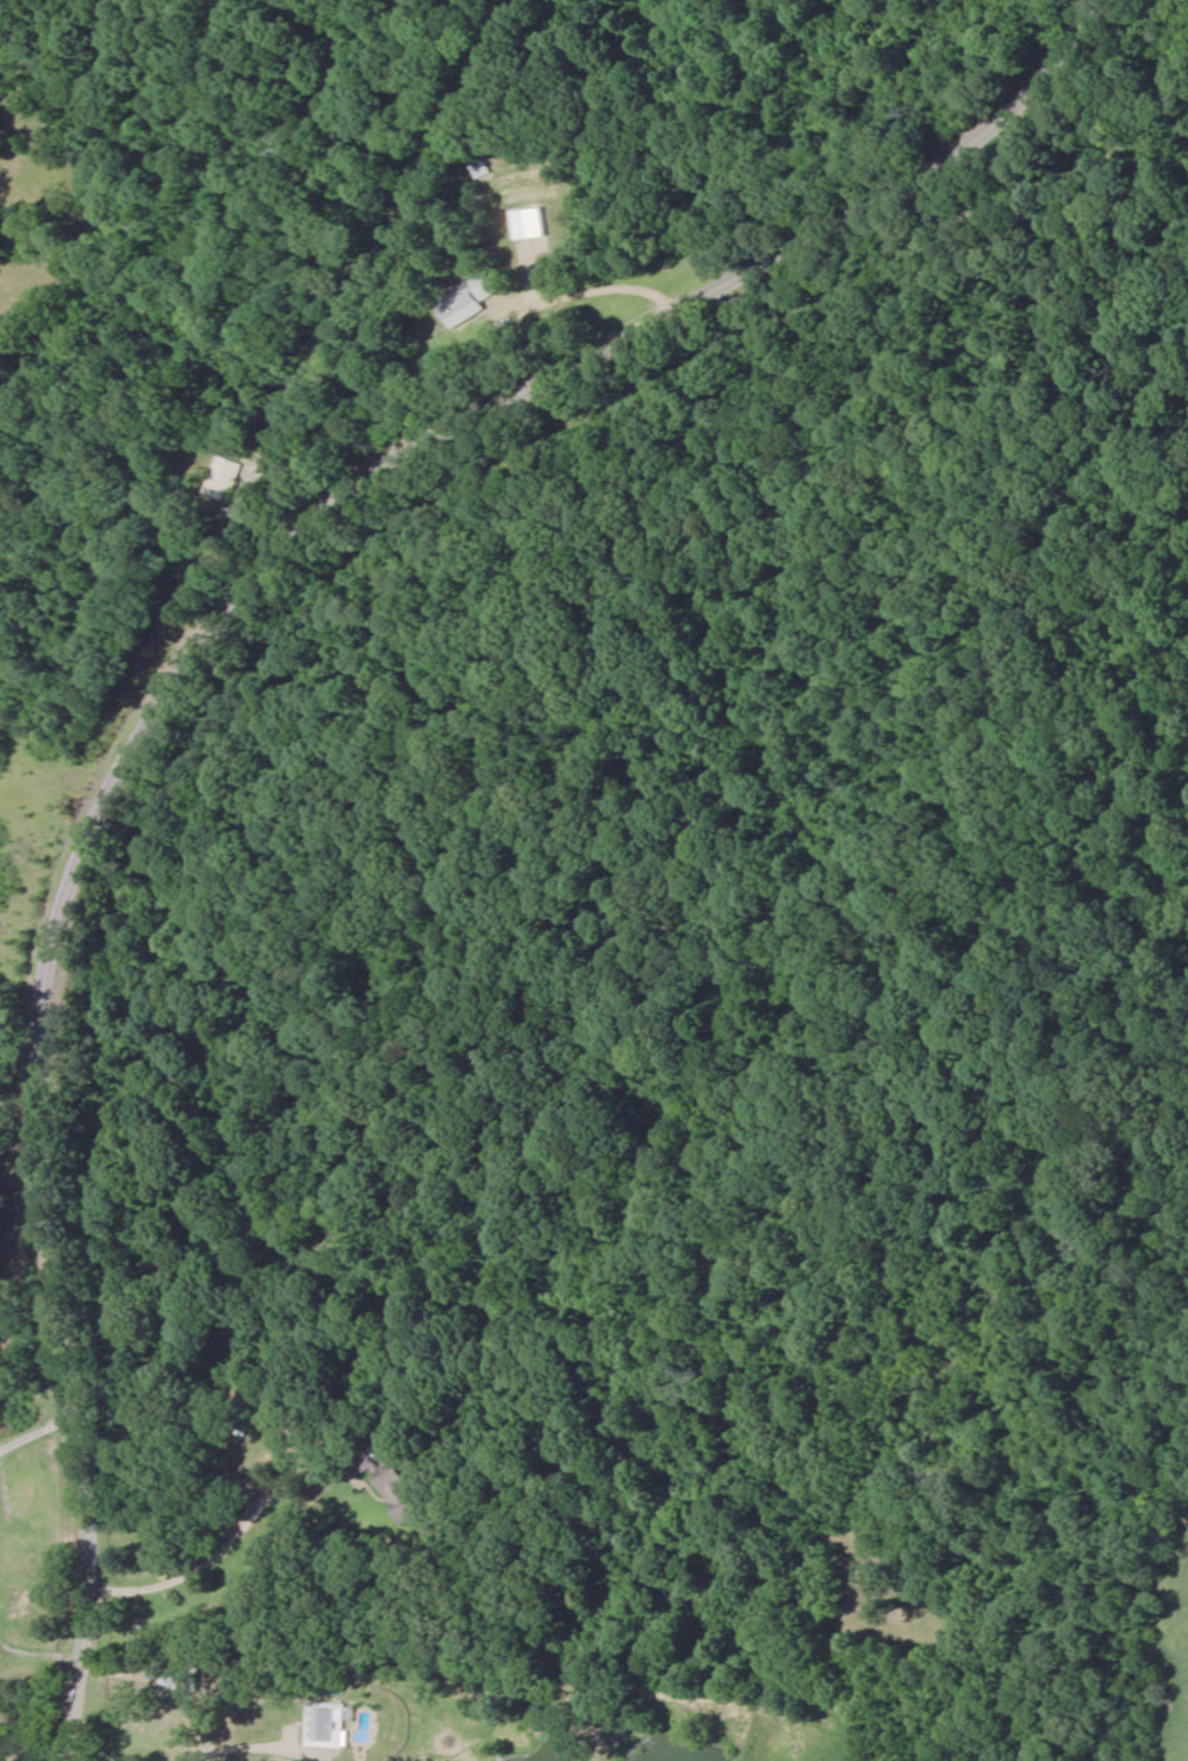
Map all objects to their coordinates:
building: (469, 299)
building: (226, 476)
road: (192, 664)
building: (396, 1489)
building: (21, 1608)
building: (326, 1724)

